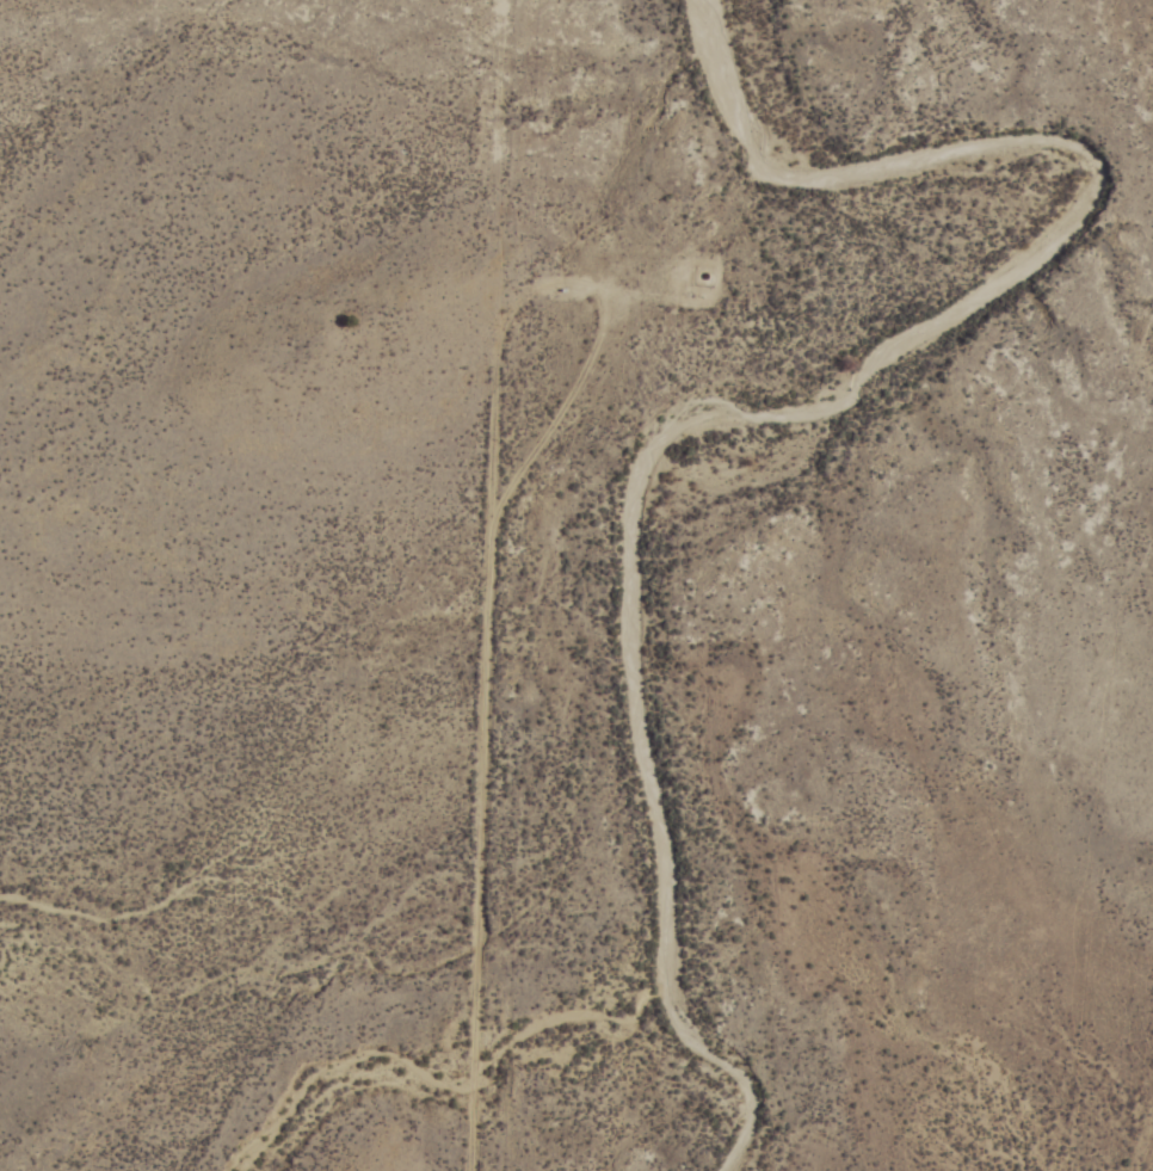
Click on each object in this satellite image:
river: (746, 469)
road: (461, 585)

